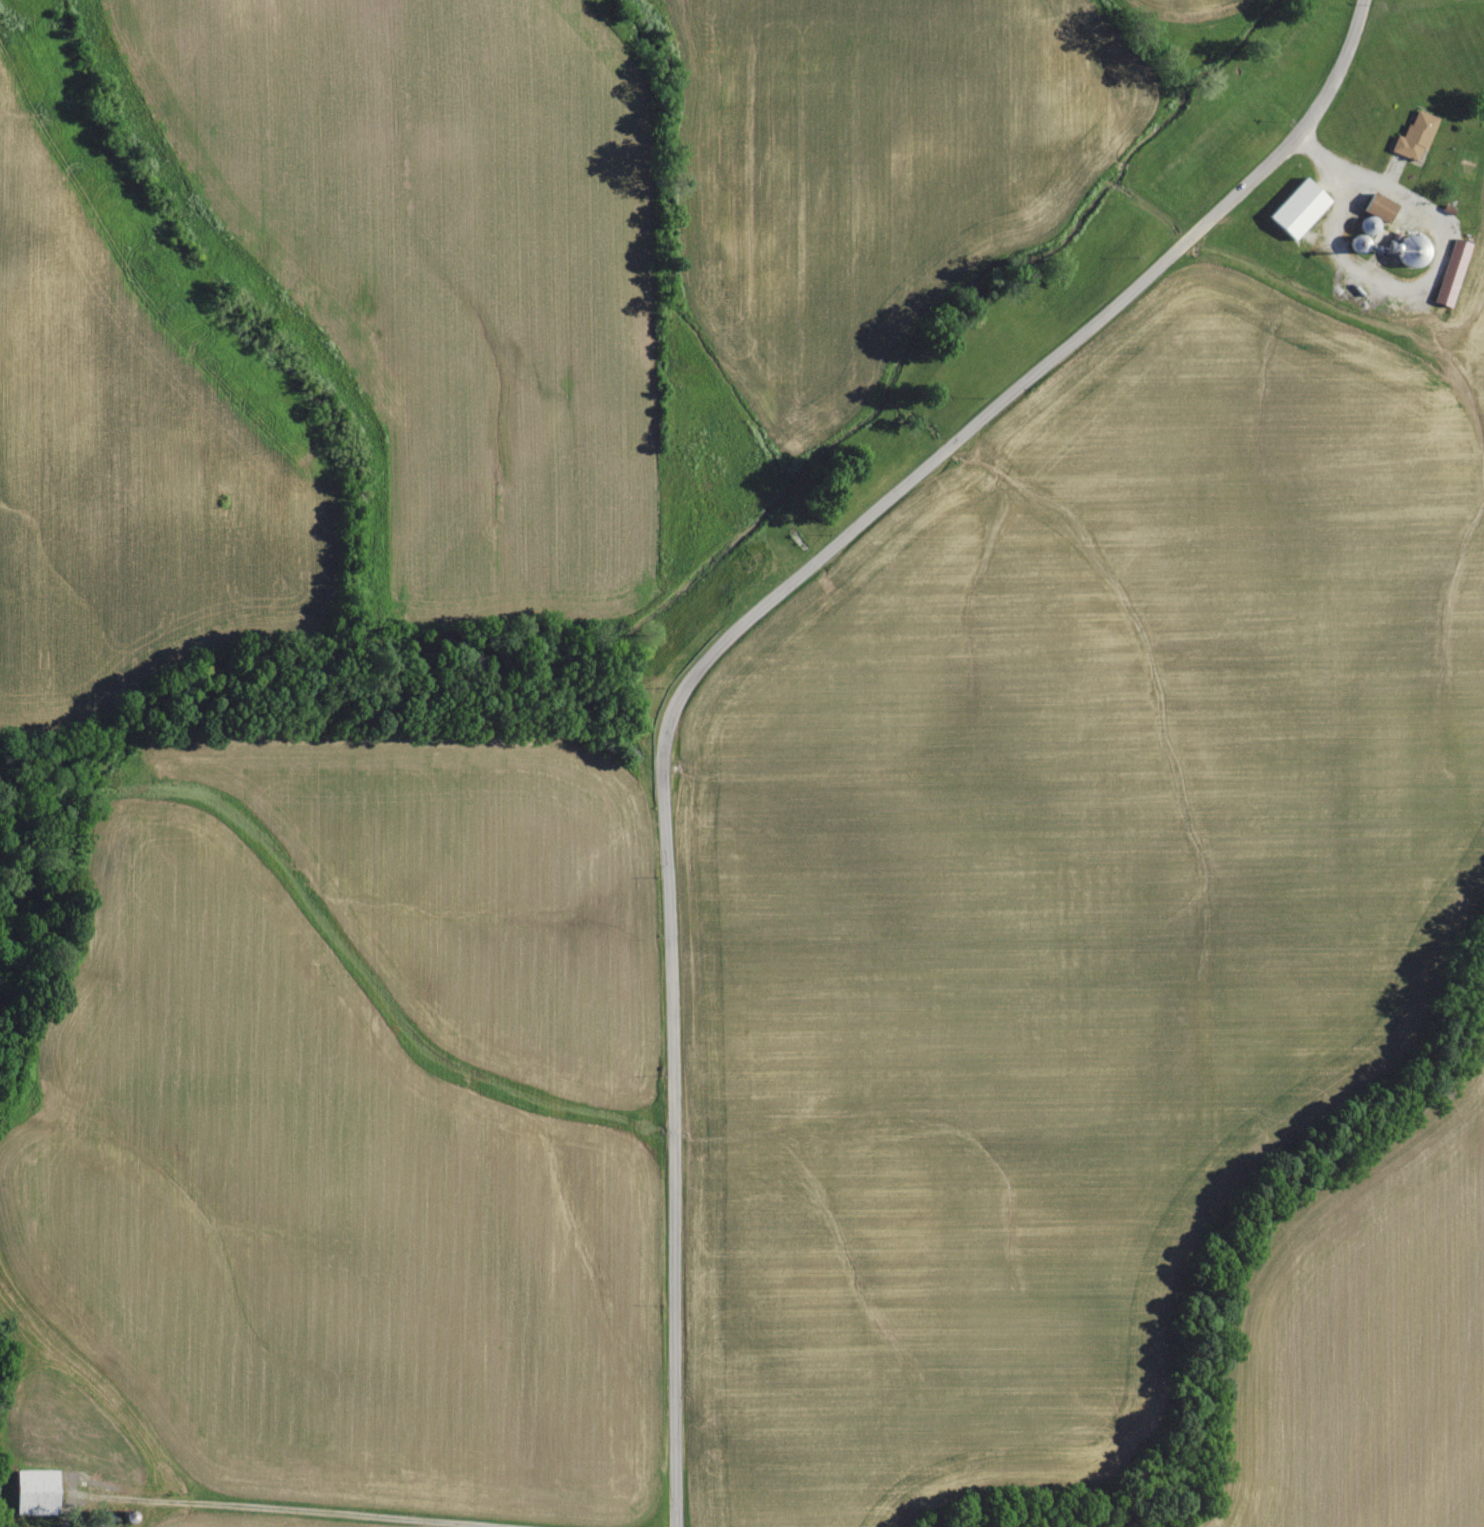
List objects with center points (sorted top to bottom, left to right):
building: (1413, 137)
building: (1295, 210)
building: (1451, 274)
road: (726, 637)
building: (33, 1492)
road: (295, 1512)

